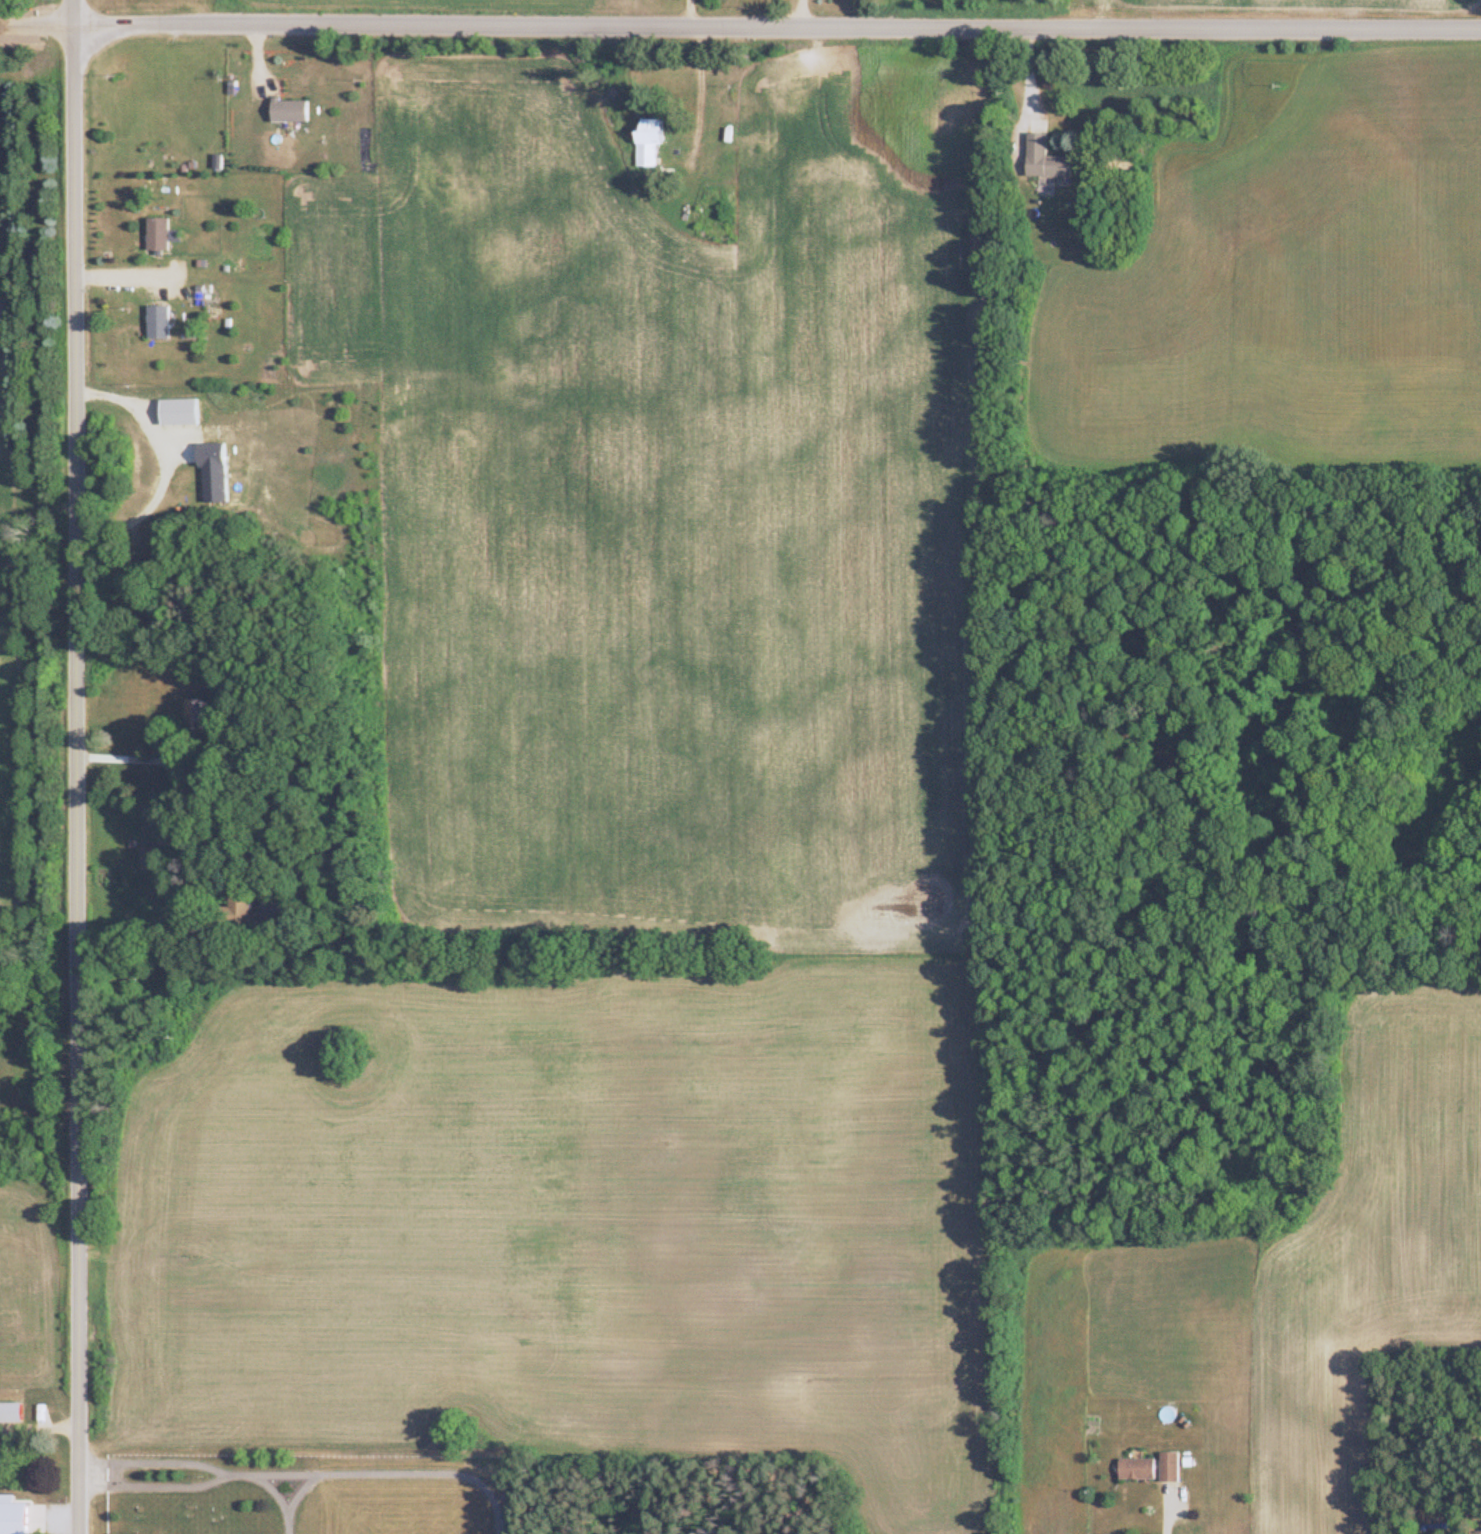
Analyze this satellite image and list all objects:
road: (690, 12)
road: (801, 12)
road: (740, 24)
road: (1029, 79)
road: (699, 88)
building: (287, 111)
building: (644, 143)
building: (1038, 159)
building: (155, 237)
road: (127, 274)
building: (155, 322)
road: (166, 459)
building: (194, 716)
road: (133, 759)
road: (76, 766)
road: (163, 932)
building: (1166, 1467)
building: (1134, 1469)
road: (1165, 1513)
building: (6, 1527)

